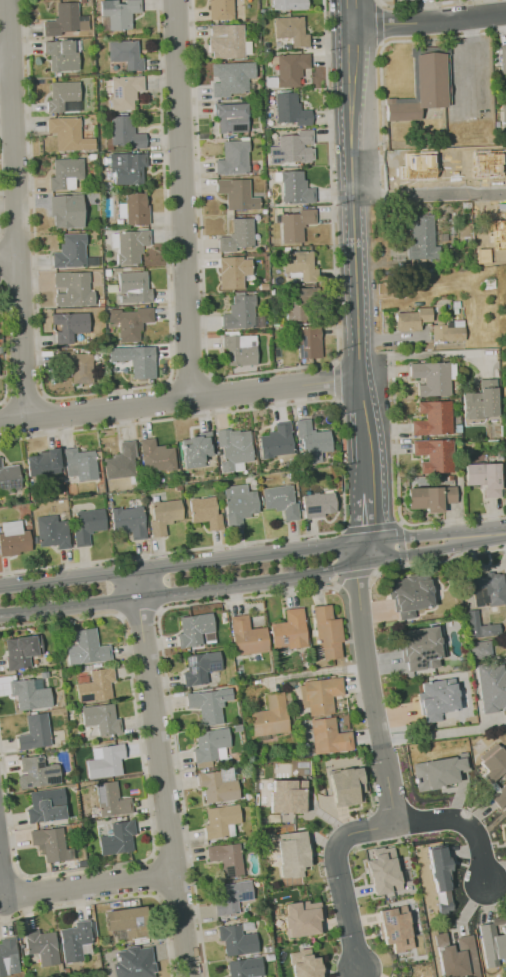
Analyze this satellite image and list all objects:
building: (288, 4)
building: (221, 9)
building: (120, 13)
building: (65, 20)
road: (434, 26)
building: (292, 30)
road: (13, 32)
building: (226, 41)
building: (125, 54)
building: (61, 55)
building: (502, 61)
road: (6, 66)
building: (291, 68)
building: (231, 77)
building: (430, 80)
road: (14, 91)
building: (125, 92)
building: (62, 95)
building: (291, 109)
building: (403, 111)
building: (503, 116)
building: (232, 117)
building: (69, 134)
building: (125, 134)
building: (293, 148)
building: (233, 158)
building: (484, 162)
building: (418, 166)
building: (128, 167)
building: (66, 173)
building: (296, 188)
building: (237, 194)
road: (436, 194)
road: (187, 200)
building: (136, 209)
building: (62, 210)
road: (14, 211)
building: (295, 225)
road: (16, 228)
building: (495, 231)
building: (238, 235)
building: (421, 236)
road: (367, 243)
building: (131, 246)
building: (71, 251)
road: (7, 258)
building: (301, 265)
building: (233, 271)
road: (17, 281)
building: (72, 288)
building: (133, 288)
building: (299, 304)
building: (239, 314)
building: (413, 319)
building: (130, 322)
building: (68, 325)
building: (447, 333)
building: (308, 342)
road: (3, 344)
building: (240, 350)
road: (436, 354)
building: (135, 360)
building: (76, 365)
road: (265, 371)
road: (191, 375)
building: (432, 378)
road: (98, 392)
road: (25, 399)
road: (184, 402)
building: (480, 403)
road: (46, 415)
road: (6, 419)
building: (434, 419)
building: (277, 442)
building: (311, 442)
building: (232, 449)
building: (196, 450)
building: (435, 455)
building: (156, 457)
building: (123, 462)
building: (44, 464)
building: (80, 464)
road: (342, 467)
building: (484, 478)
building: (9, 479)
building: (431, 498)
building: (281, 501)
building: (317, 505)
building: (240, 508)
building: (205, 512)
road: (371, 515)
building: (164, 516)
road: (451, 518)
building: (129, 521)
road: (388, 524)
building: (86, 525)
building: (53, 532)
building: (14, 542)
road: (252, 557)
road: (438, 557)
road: (351, 574)
road: (254, 579)
building: (490, 586)
building: (409, 595)
road: (246, 596)
road: (139, 613)
building: (479, 626)
building: (194, 629)
building: (290, 630)
building: (328, 632)
building: (247, 636)
building: (421, 646)
building: (87, 648)
building: (479, 649)
building: (21, 651)
building: (200, 667)
road: (372, 679)
building: (95, 685)
building: (492, 688)
building: (29, 694)
building: (321, 694)
building: (436, 699)
building: (208, 704)
building: (271, 716)
building: (101, 719)
building: (35, 733)
building: (327, 736)
building: (210, 744)
building: (106, 762)
building: (494, 763)
building: (437, 771)
building: (37, 773)
road: (163, 774)
building: (345, 778)
building: (216, 787)
building: (499, 795)
building: (284, 798)
building: (111, 800)
road: (146, 803)
building: (46, 805)
road: (458, 819)
building: (220, 820)
building: (118, 838)
building: (51, 843)
building: (291, 854)
building: (226, 859)
building: (382, 870)
road: (340, 877)
building: (440, 879)
road: (2, 880)
road: (91, 885)
building: (232, 897)
building: (300, 918)
building: (129, 922)
building: (395, 929)
building: (76, 940)
building: (237, 940)
building: (491, 943)
building: (42, 946)
building: (498, 947)
building: (6, 954)
building: (455, 956)
building: (135, 964)
building: (304, 964)
building: (245, 967)

